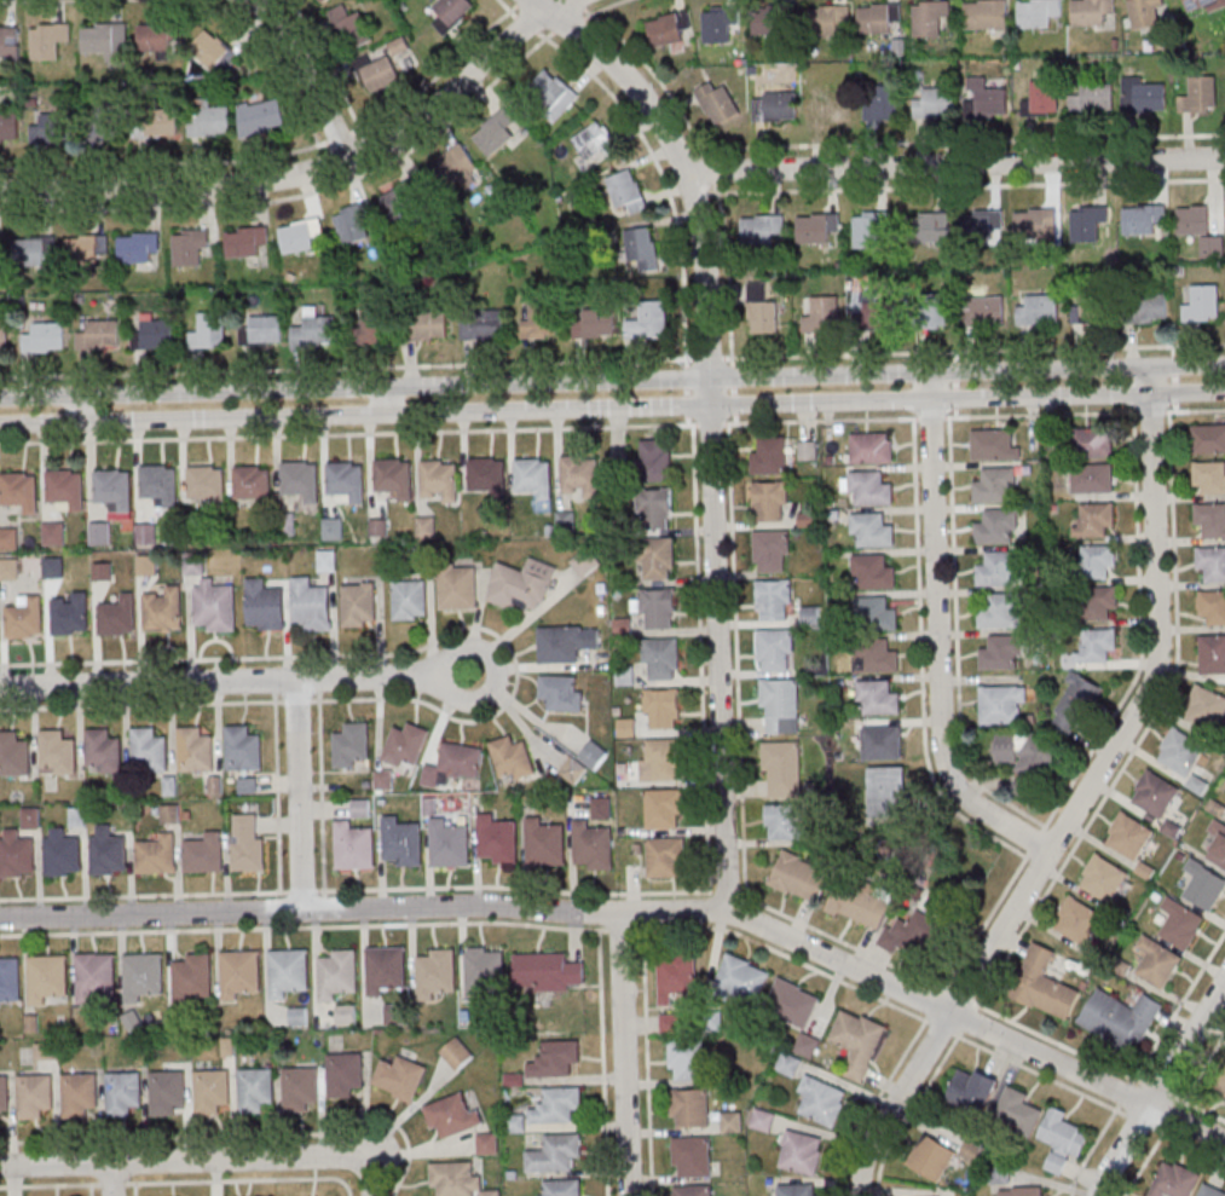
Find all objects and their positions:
building: (331, 0)
building: (1197, 4)
building: (1092, 11)
building: (1038, 12)
building: (1145, 12)
building: (986, 15)
building: (878, 18)
building: (773, 19)
building: (828, 19)
building: (929, 19)
building: (720, 24)
building: (668, 28)
building: (349, 29)
building: (157, 37)
building: (47, 41)
building: (105, 41)
building: (8, 44)
building: (212, 51)
road: (307, 74)
building: (380, 75)
building: (1200, 94)
building: (551, 96)
building: (1044, 97)
building: (1091, 97)
building: (1148, 97)
building: (987, 99)
building: (882, 102)
building: (717, 103)
building: (934, 104)
building: (775, 105)
building: (830, 105)
building: (260, 117)
building: (208, 119)
building: (157, 122)
building: (8, 127)
building: (109, 128)
building: (53, 129)
building: (495, 133)
building: (594, 140)
road: (955, 164)
road: (310, 166)
road: (683, 169)
building: (427, 187)
building: (625, 192)
building: (1142, 219)
building: (353, 223)
building: (1033, 224)
building: (1091, 224)
building: (981, 227)
building: (816, 229)
building: (930, 229)
building: (1200, 229)
building: (869, 230)
building: (761, 231)
building: (300, 236)
building: (244, 242)
building: (0, 248)
building: (86, 249)
building: (137, 249)
building: (189, 249)
building: (642, 249)
building: (33, 252)
building: (1202, 304)
building: (1146, 307)
building: (1087, 308)
building: (1039, 310)
building: (871, 311)
building: (934, 311)
building: (987, 311)
building: (763, 313)
building: (821, 314)
building: (541, 322)
building: (648, 322)
building: (481, 324)
building: (593, 324)
building: (427, 325)
building: (371, 327)
building: (212, 329)
building: (260, 330)
building: (314, 330)
building: (157, 334)
building: (99, 335)
building: (4, 336)
building: (45, 339)
road: (612, 359)
road: (612, 380)
road: (387, 397)
road: (612, 405)
road: (86, 408)
road: (398, 432)
building: (1208, 438)
building: (1092, 441)
building: (993, 444)
building: (872, 447)
building: (808, 450)
building: (769, 455)
building: (655, 460)
building: (578, 474)
building: (486, 475)
building: (393, 476)
building: (532, 476)
building: (1209, 476)
building: (1092, 478)
building: (300, 479)
building: (438, 479)
building: (346, 480)
building: (158, 483)
building: (206, 484)
building: (253, 484)
building: (993, 484)
building: (65, 487)
building: (112, 487)
building: (869, 487)
building: (18, 491)
building: (769, 502)
building: (654, 509)
building: (1210, 519)
building: (1094, 520)
building: (995, 526)
building: (424, 527)
building: (871, 530)
building: (100, 533)
building: (145, 535)
building: (772, 551)
building: (657, 559)
building: (1098, 561)
building: (1212, 564)
building: (146, 565)
building: (193, 565)
building: (8, 568)
building: (996, 568)
building: (873, 571)
building: (522, 584)
building: (457, 588)
building: (409, 601)
building: (774, 601)
building: (1100, 603)
building: (311, 605)
building: (358, 605)
building: (214, 606)
building: (265, 606)
building: (1212, 608)
building: (163, 609)
building: (658, 609)
building: (999, 609)
building: (70, 614)
building: (873, 614)
building: (119, 617)
building: (25, 618)
road: (938, 639)
building: (564, 643)
building: (1097, 646)
road: (721, 649)
building: (774, 651)
building: (1000, 651)
building: (876, 655)
building: (1212, 655)
building: (661, 660)
road: (236, 680)
building: (561, 692)
building: (877, 698)
road: (312, 700)
road: (277, 701)
road: (295, 701)
building: (1075, 701)
road: (137, 705)
building: (1002, 705)
building: (780, 706)
building: (663, 709)
building: (1207, 709)
building: (882, 743)
building: (352, 744)
building: (406, 744)
building: (149, 749)
building: (193, 749)
building: (242, 749)
building: (103, 750)
building: (57, 751)
building: (13, 752)
building: (1180, 753)
building: (512, 758)
building: (660, 759)
building: (584, 762)
building: (1028, 763)
building: (453, 764)
building: (781, 768)
building: (383, 779)
building: (1198, 786)
building: (888, 792)
road: (297, 793)
building: (1155, 793)
road: (319, 796)
road: (276, 797)
road: (1080, 799)
building: (578, 804)
building: (360, 807)
building: (664, 808)
building: (30, 819)
building: (785, 821)
building: (1128, 836)
building: (496, 839)
building: (400, 842)
building: (247, 843)
building: (544, 843)
building: (449, 844)
building: (353, 845)
building: (1218, 845)
building: (593, 847)
building: (108, 851)
building: (16, 854)
building: (62, 854)
building: (203, 854)
building: (156, 855)
building: (665, 856)
building: (798, 876)
building: (1103, 878)
building: (1204, 885)
road: (300, 891)
road: (318, 891)
road: (282, 892)
road: (139, 896)
building: (857, 906)
road: (638, 913)
building: (1076, 920)
building: (1181, 923)
road: (299, 928)
road: (620, 930)
building: (915, 936)
building: (1157, 961)
building: (383, 969)
building: (287, 972)
building: (435, 972)
building: (483, 972)
building: (547, 972)
building: (237, 973)
building: (336, 973)
building: (93, 976)
building: (141, 976)
building: (46, 977)
building: (676, 977)
building: (190, 978)
building: (741, 978)
building: (8, 980)
building: (1044, 984)
building: (793, 1001)
building: (393, 1013)
building: (346, 1015)
building: (1121, 1018)
building: (670, 1023)
building: (857, 1041)
building: (807, 1044)
building: (457, 1052)
road: (622, 1055)
building: (554, 1058)
road: (601, 1058)
road: (645, 1059)
building: (687, 1059)
building: (788, 1064)
building: (342, 1074)
building: (399, 1077)
road: (1158, 1086)
building: (297, 1087)
building: (253, 1090)
building: (209, 1091)
building: (972, 1091)
building: (122, 1092)
building: (164, 1092)
building: (1224, 1092)
building: (2, 1093)
building: (33, 1094)
building: (76, 1094)
building: (822, 1100)
building: (559, 1104)
building: (689, 1109)
building: (1018, 1110)
building: (452, 1114)
road: (163, 1138)
building: (1061, 1139)
building: (487, 1143)
road: (370, 1152)
building: (557, 1152)
building: (802, 1152)
building: (692, 1157)
building: (932, 1157)
road: (183, 1161)
road: (111, 1179)
road: (369, 1179)
road: (244, 1180)
building: (457, 1180)
building: (1175, 1180)
road: (110, 1184)
road: (44, 1186)
building: (561, 1188)
building: (798, 1189)
building: (1212, 1189)
building: (694, 1191)
building: (1022, 1191)
road: (348, 1195)

